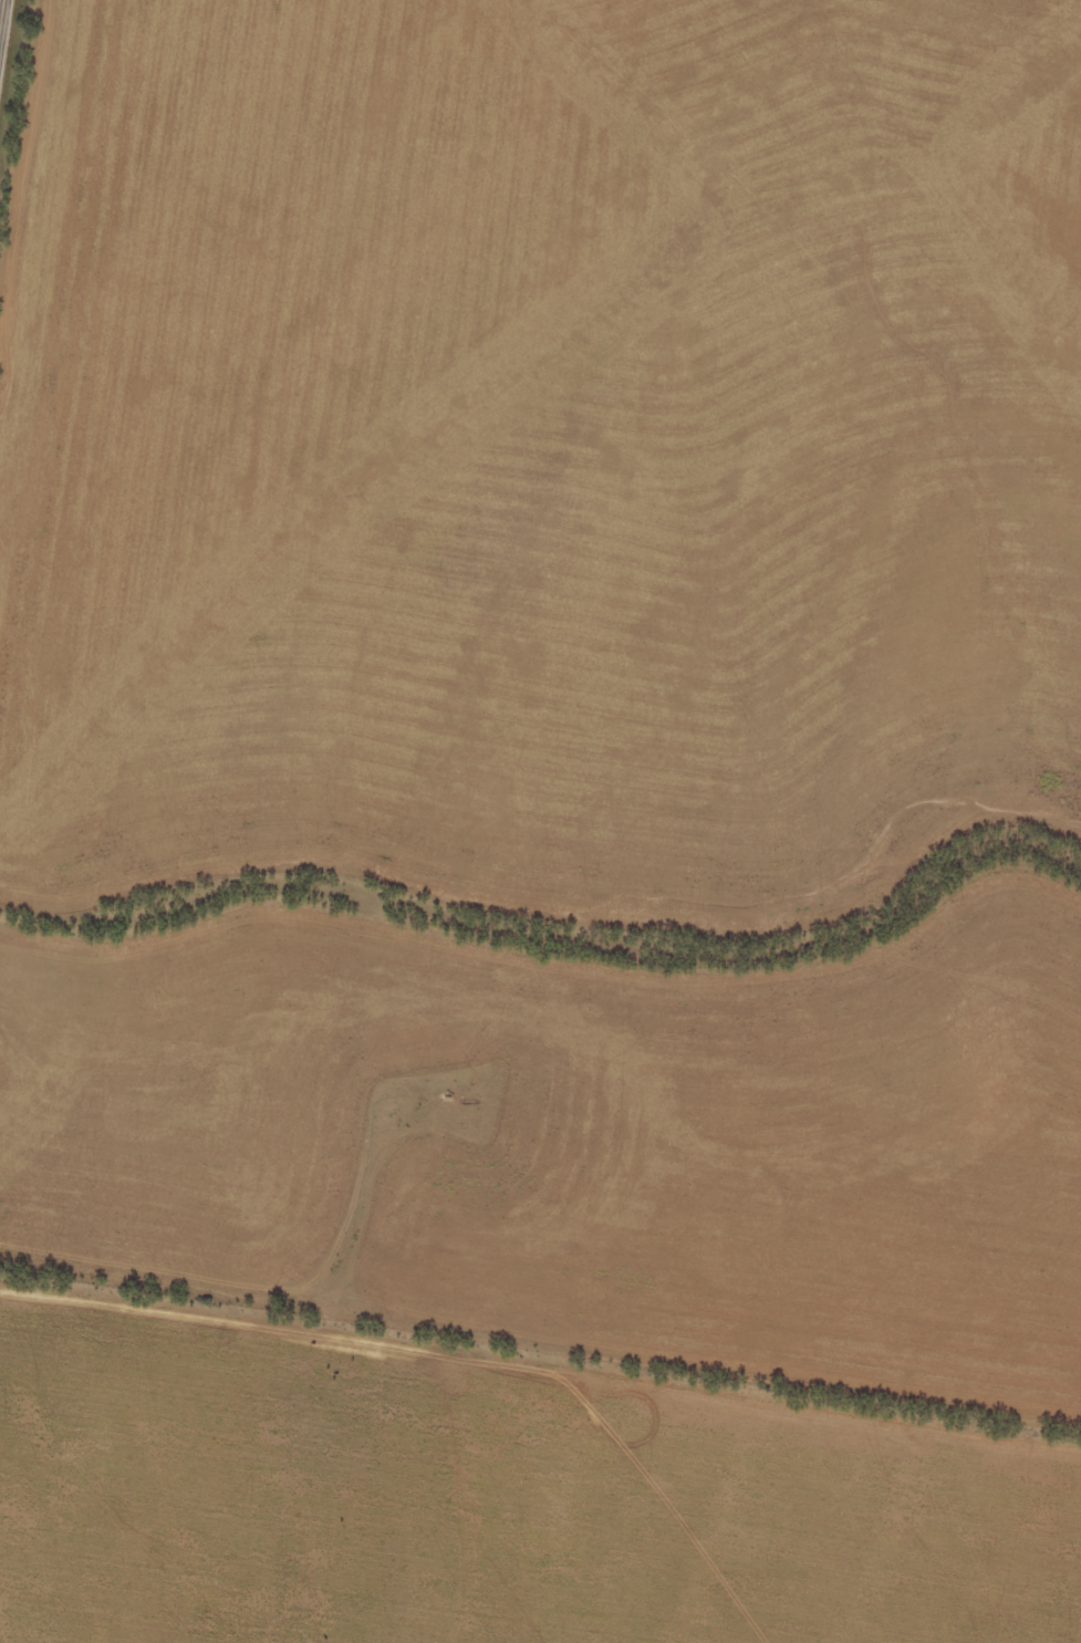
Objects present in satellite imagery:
road: (2, 14)

